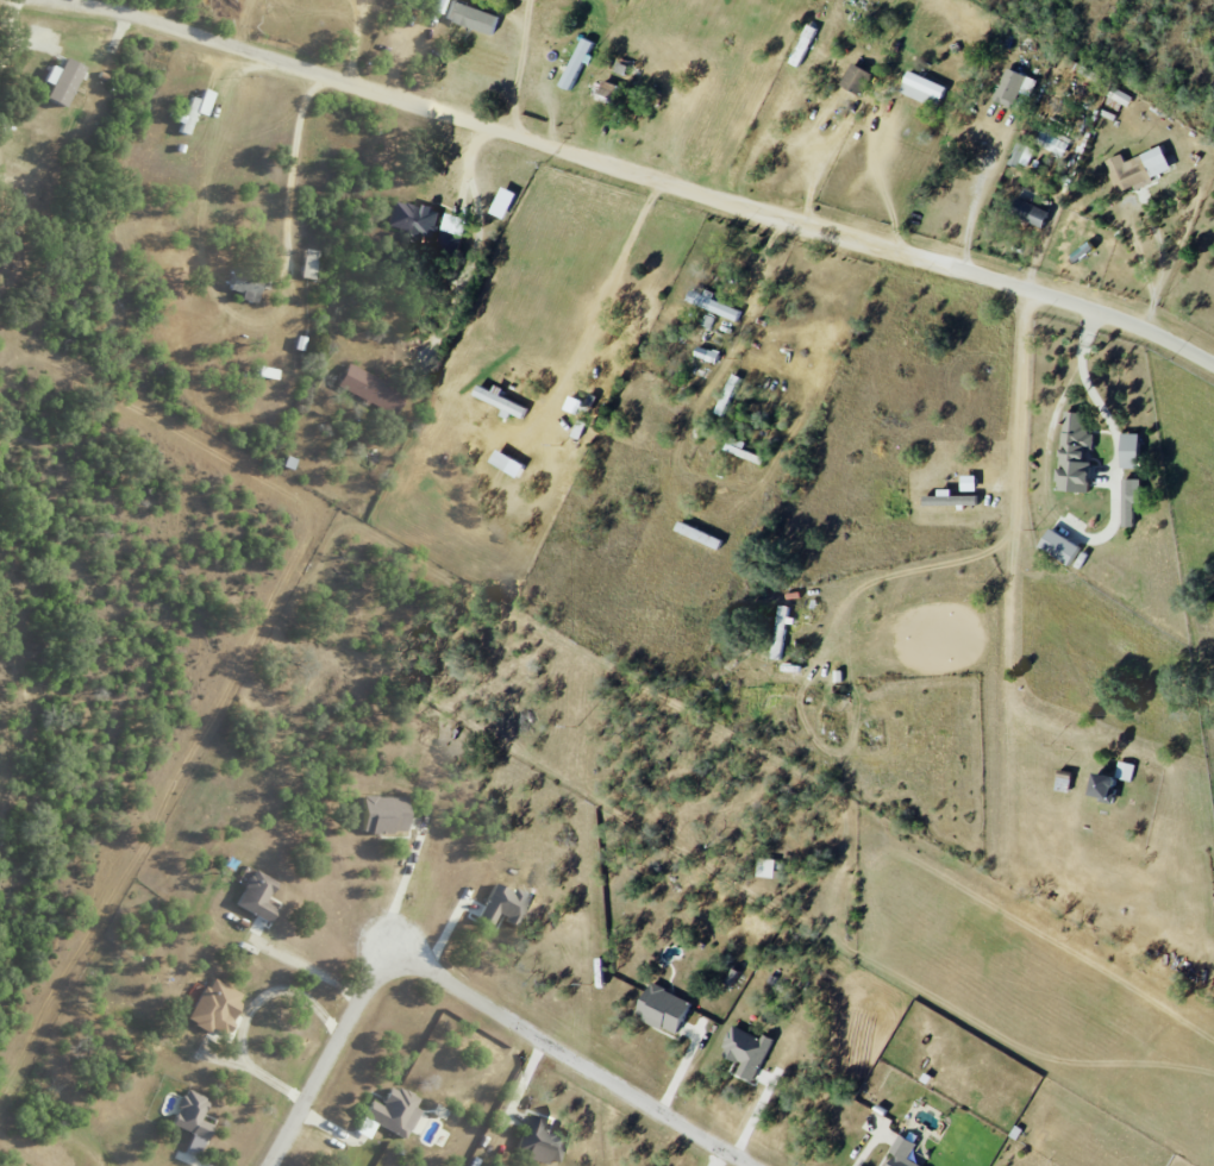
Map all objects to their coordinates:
building: (469, 17)
road: (357, 40)
building: (577, 63)
road: (520, 65)
building: (857, 79)
building: (60, 81)
building: (1013, 87)
building: (922, 88)
building: (608, 89)
building: (1120, 96)
building: (194, 109)
road: (505, 128)
building: (1018, 153)
power tower: (549, 162)
road: (827, 162)
road: (880, 167)
road: (296, 169)
building: (1137, 169)
road: (977, 198)
building: (1028, 212)
building: (419, 226)
building: (309, 264)
building: (243, 287)
building: (49, 291)
building: (713, 305)
road: (1085, 308)
road: (596, 313)
building: (707, 353)
building: (267, 372)
building: (369, 389)
building: (728, 394)
building: (500, 401)
power tower: (564, 445)
building: (1129, 450)
building: (1074, 455)
building: (500, 459)
building: (949, 500)
building: (1129, 500)
road: (1014, 538)
building: (1058, 546)
road: (932, 565)
building: (780, 631)
power tower: (577, 727)
building: (1125, 770)
building: (1101, 786)
building: (381, 814)
building: (765, 867)
road: (396, 884)
building: (255, 895)
building: (502, 904)
road: (303, 971)
power tower: (595, 983)
building: (213, 1005)
building: (662, 1008)
road: (248, 1013)
building: (746, 1051)
road: (328, 1055)
road: (571, 1055)
building: (392, 1110)
building: (192, 1118)
building: (539, 1140)
building: (901, 1153)

